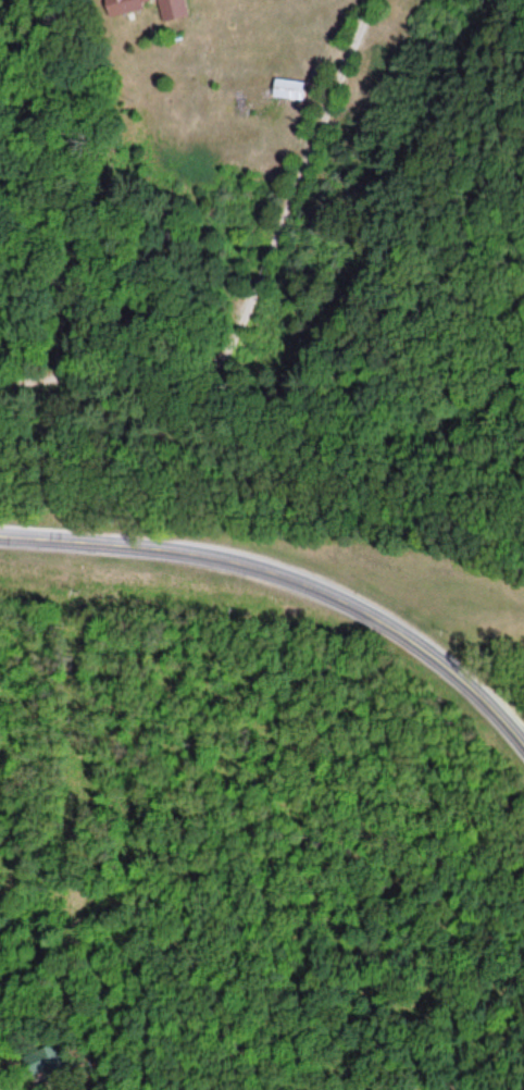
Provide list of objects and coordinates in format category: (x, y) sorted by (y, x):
building: (118, 3)
building: (169, 7)
building: (288, 89)
road: (250, 285)
road: (288, 578)
building: (49, 1062)

